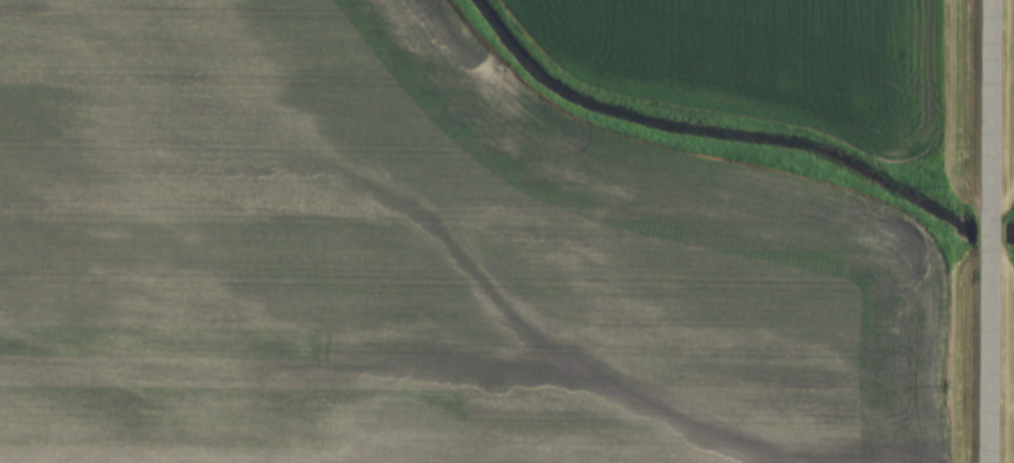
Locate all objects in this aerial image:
road: (995, 231)

